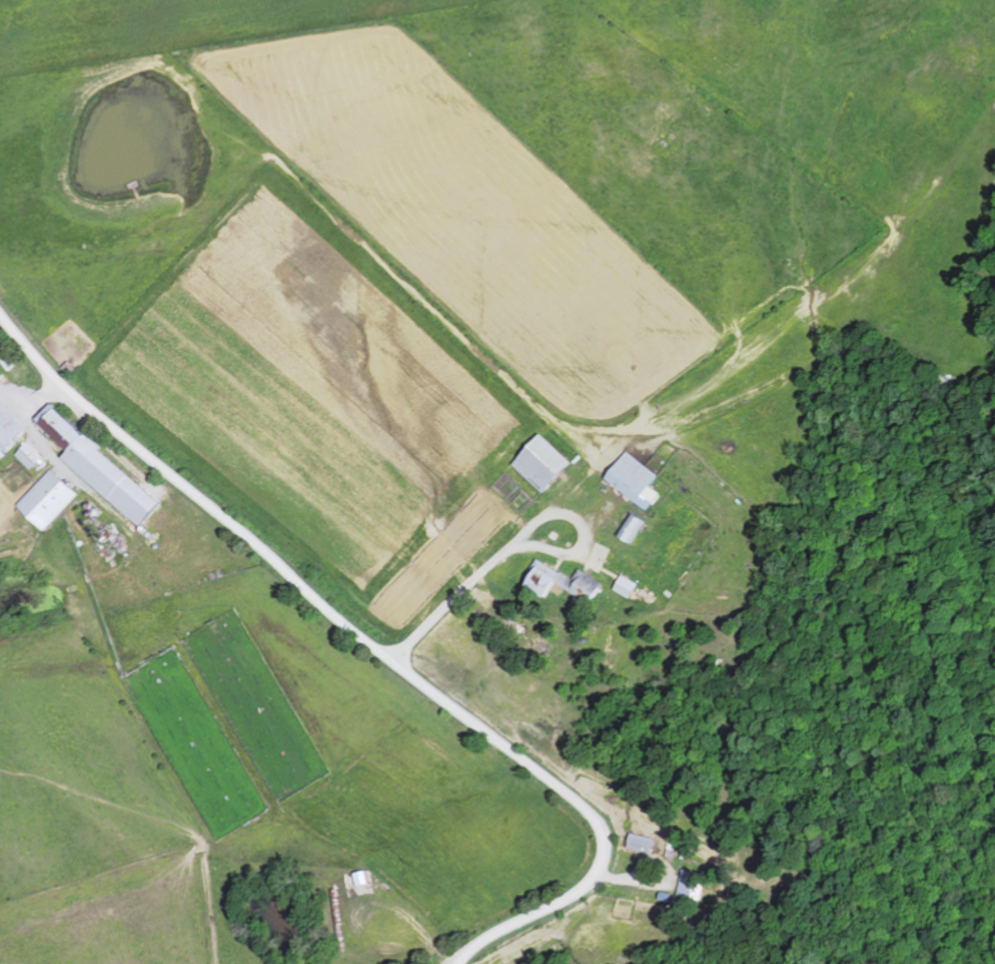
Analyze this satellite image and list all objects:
building: (9, 429)
building: (32, 455)
building: (547, 463)
building: (104, 467)
building: (638, 480)
building: (50, 499)
building: (635, 527)
building: (570, 583)
building: (629, 586)
road: (377, 648)
building: (646, 842)
building: (696, 884)

